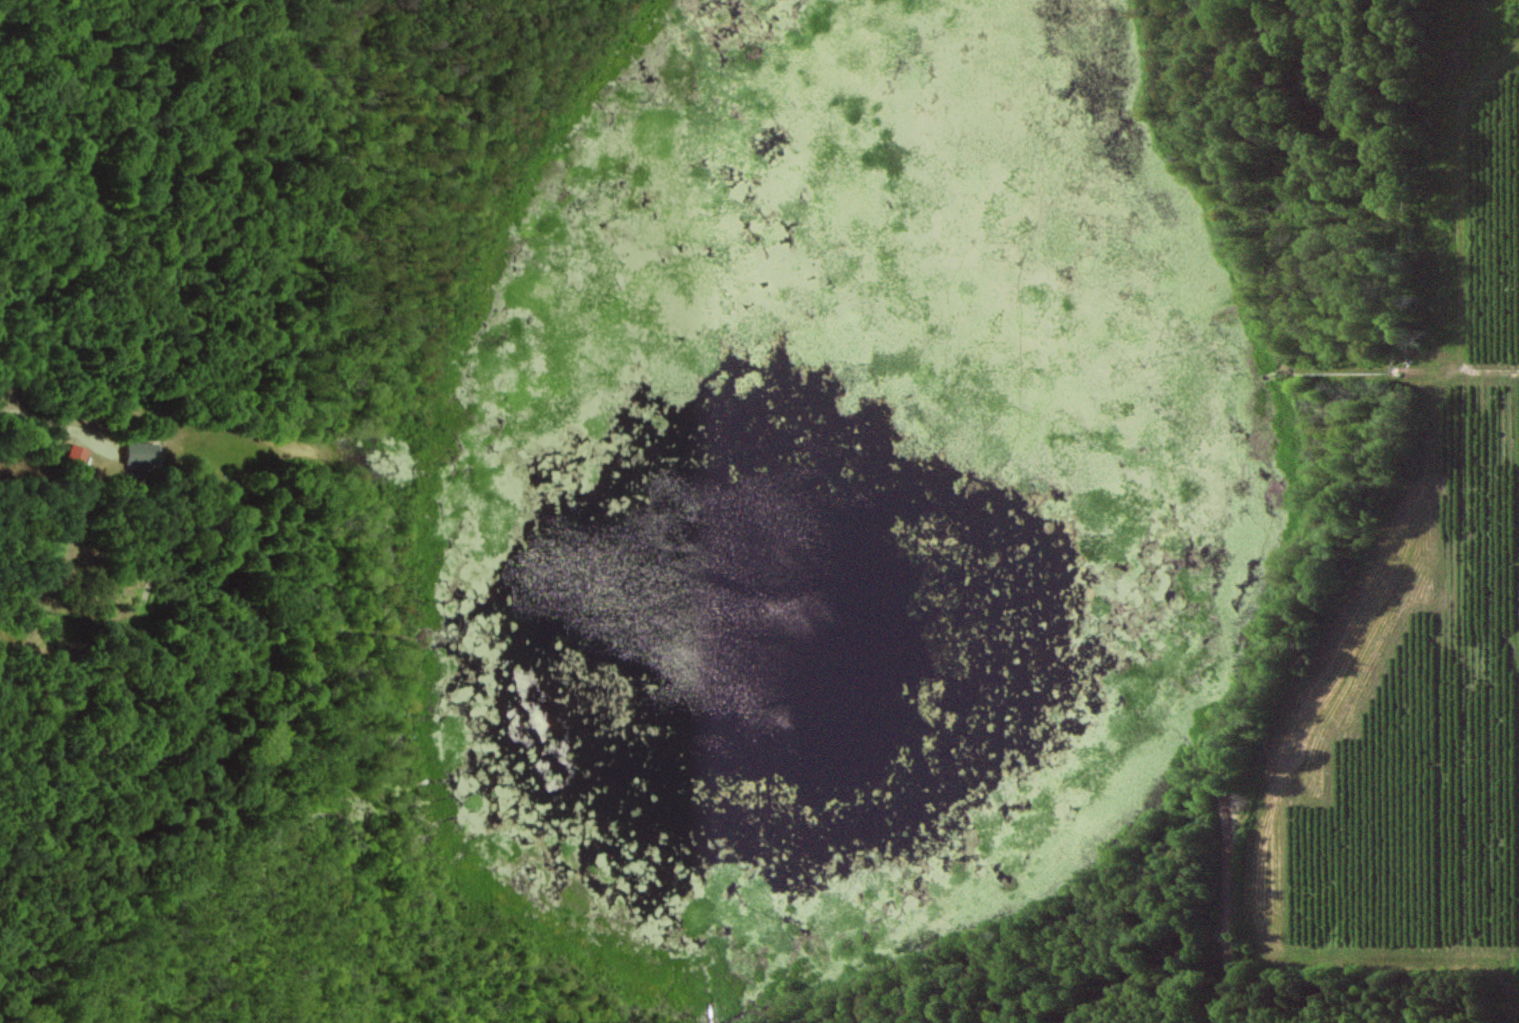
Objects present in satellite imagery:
road: (21, 415)
road: (108, 437)
building: (140, 453)
building: (76, 454)
road: (48, 605)
road: (1229, 912)

